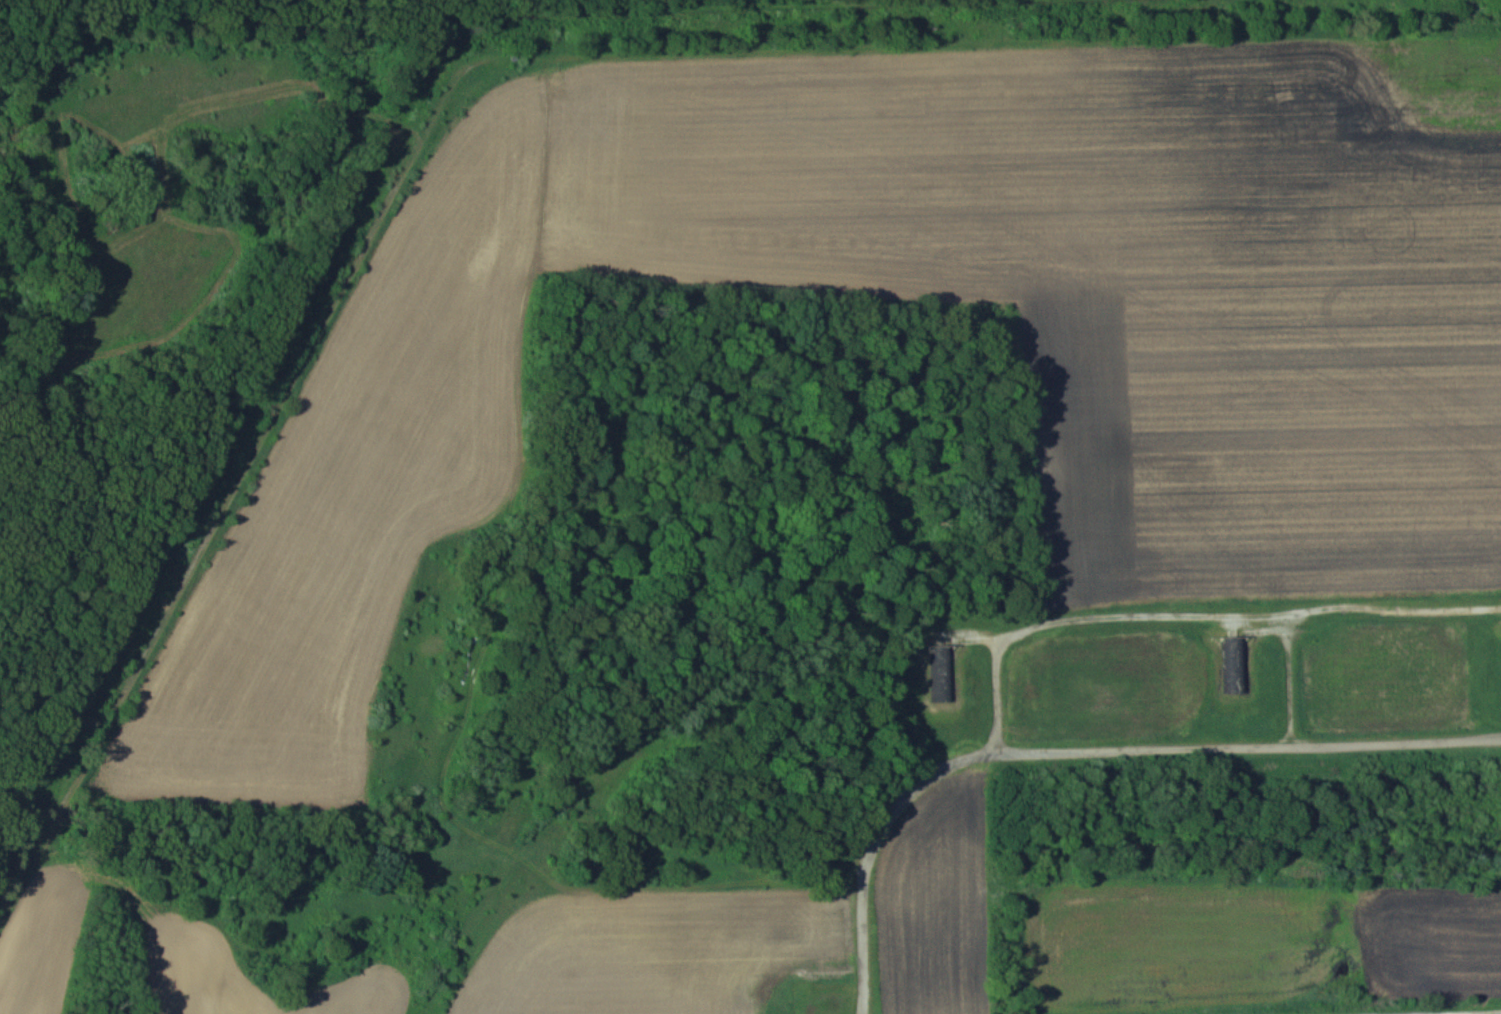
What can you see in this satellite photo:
road: (1196, 603)
building: (940, 673)
road: (1079, 742)
road: (1481, 1013)

